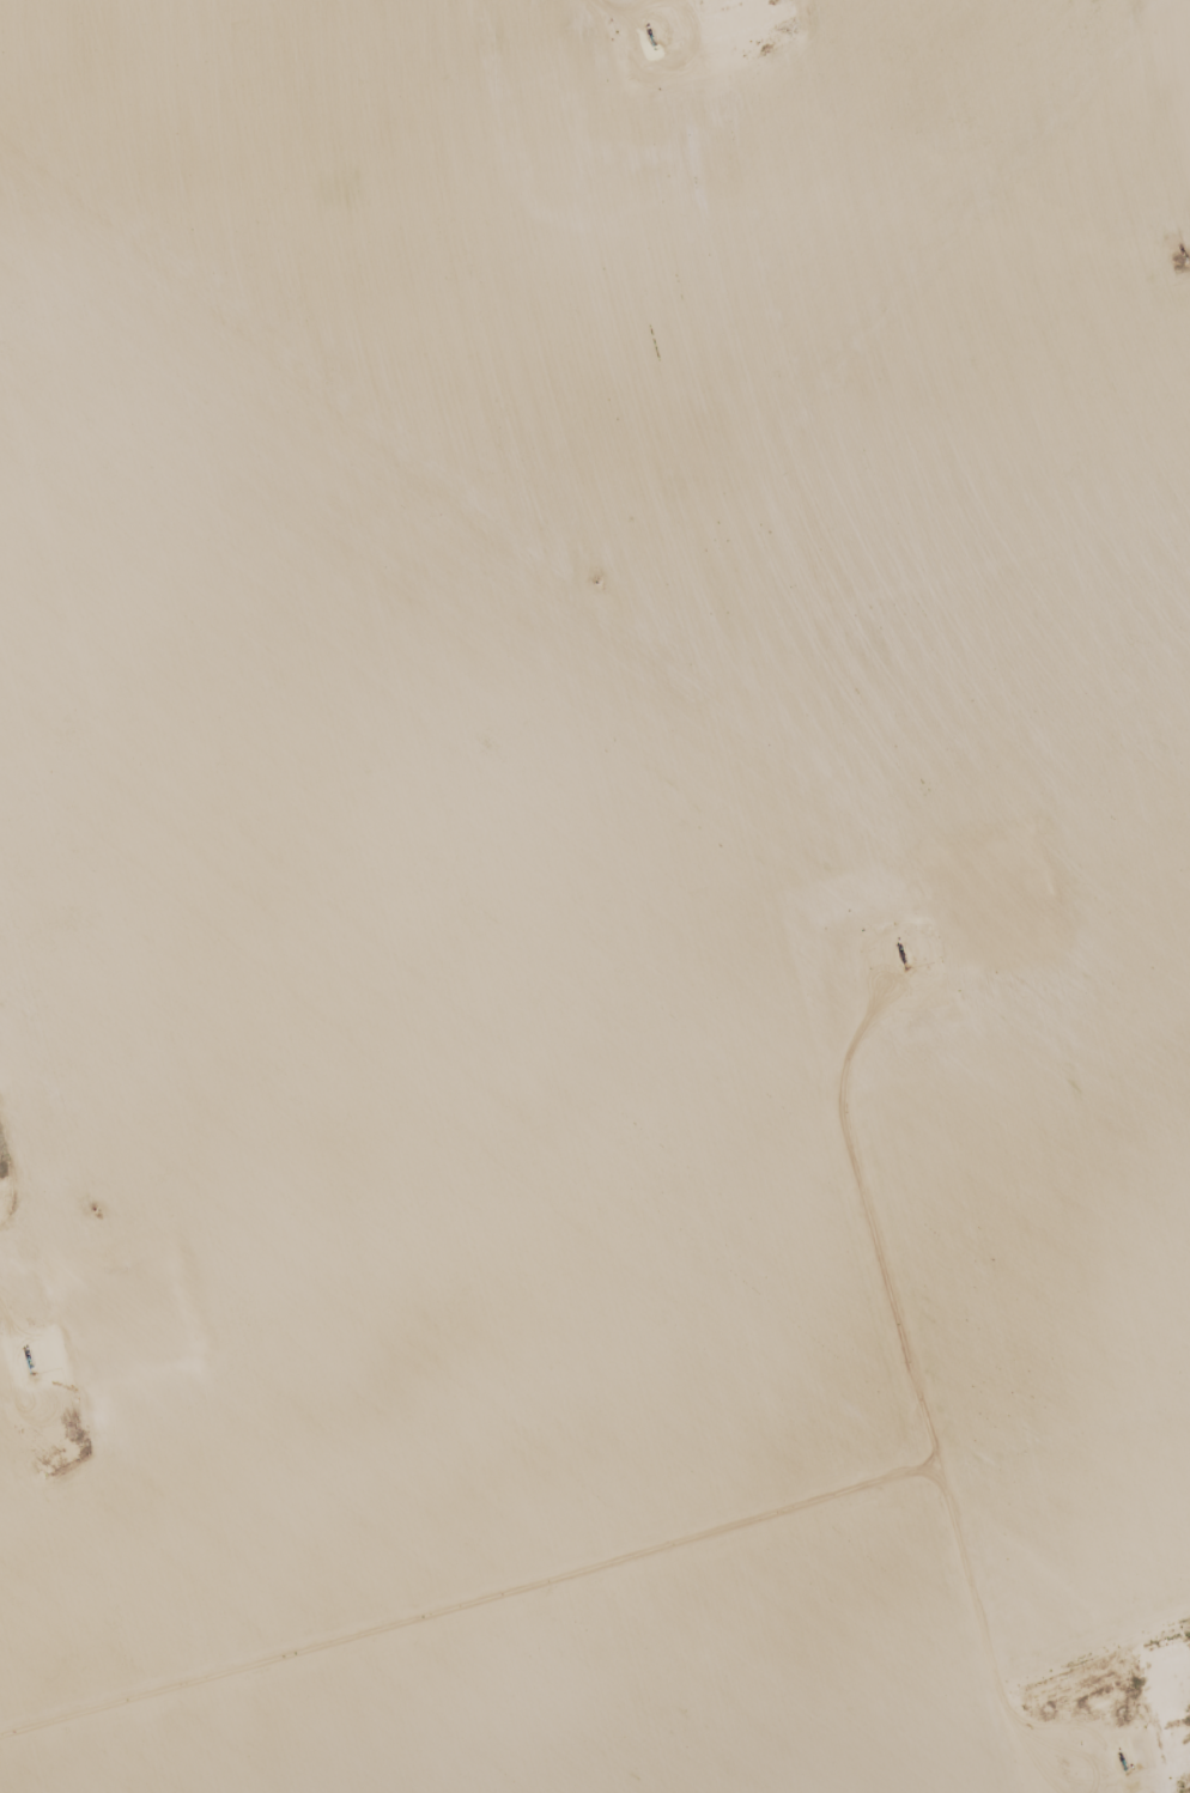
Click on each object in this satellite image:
road: (40, 703)
road: (559, 984)
road: (41, 1161)
road: (1176, 1664)

